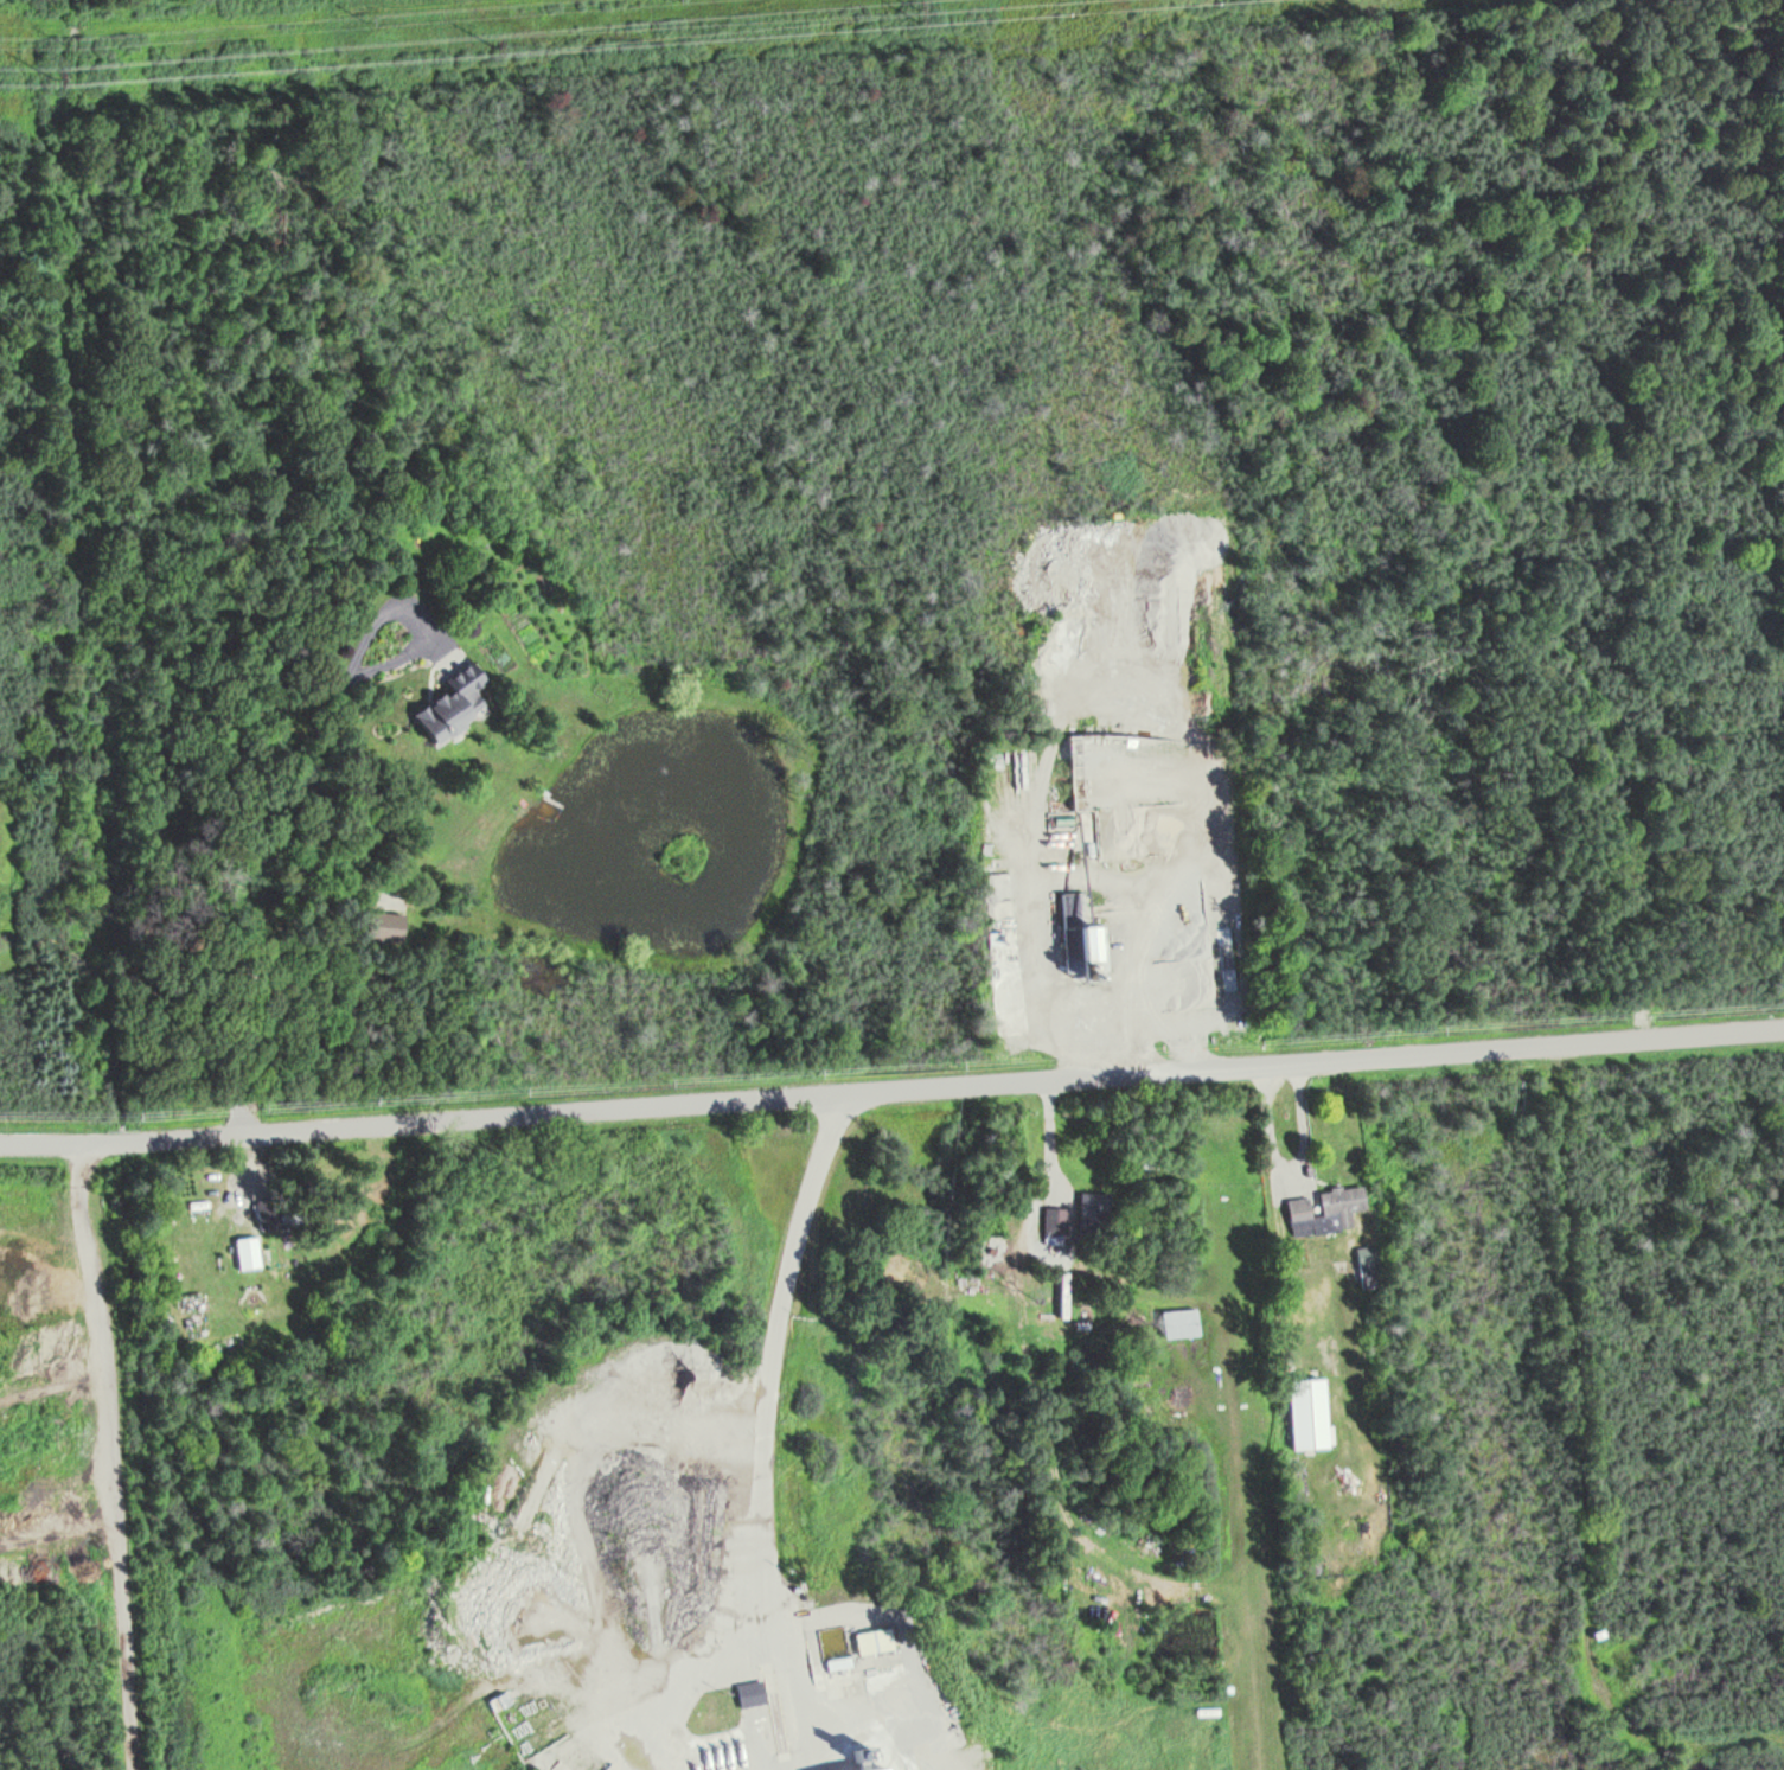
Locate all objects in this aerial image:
crop: (36, 2)
power tower: (910, 9)
power tower: (366, 20)
power tower: (63, 40)
power tower: (495, 43)
power tower: (50, 76)
building: (1073, 614)
building: (447, 710)
building: (383, 925)
building: (1089, 948)
road: (891, 1085)
building: (1324, 1209)
building: (245, 1251)
building: (1178, 1321)
road: (772, 1357)
building: (1142, 1389)
building: (1307, 1413)
airport runway: (1238, 1448)
road: (111, 1456)
quarry: (650, 1464)
building: (871, 1638)
building: (749, 1692)
building: (851, 1764)

